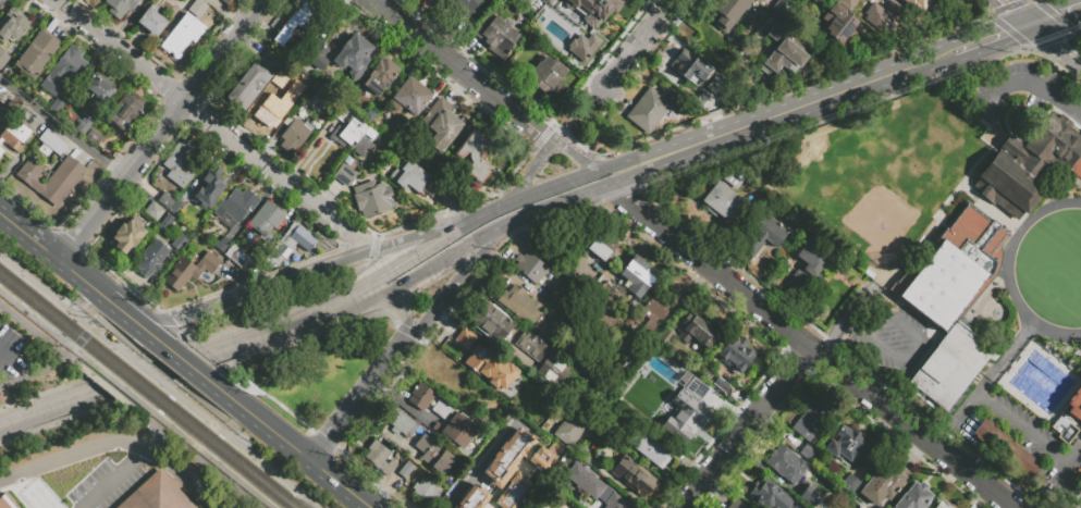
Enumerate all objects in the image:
building: (1, 1)
building: (757, 1)
road: (1034, 1)
building: (230, 2)
building: (848, 2)
road: (1019, 2)
building: (918, 3)
building: (460, 5)
building: (120, 7)
road: (1080, 7)
building: (197, 8)
building: (598, 8)
road: (1000, 10)
road: (1027, 10)
road: (228, 12)
building: (563, 12)
building: (727, 12)
road: (1018, 12)
building: (779, 13)
road: (1056, 14)
road: (1057, 15)
building: (302, 16)
building: (877, 16)
road: (994, 21)
building: (151, 22)
building: (12, 24)
traffic signals: (1034, 24)
building: (838, 25)
building: (188, 27)
road: (1067, 29)
road: (1010, 30)
road: (1007, 33)
building: (495, 36)
building: (282, 37)
road: (1054, 40)
road: (638, 41)
road: (1056, 41)
building: (174, 44)
building: (581, 46)
road: (1052, 46)
road: (968, 47)
building: (781, 49)
road: (438, 51)
building: (37, 53)
building: (353, 53)
building: (316, 54)
building: (3, 59)
road: (1080, 59)
building: (689, 67)
building: (63, 69)
building: (379, 76)
building: (548, 78)
road: (1031, 83)
building: (247, 86)
building: (721, 87)
parking lot: (1025, 91)
building: (95, 96)
building: (409, 97)
building: (318, 98)
building: (699, 99)
road: (815, 101)
building: (56, 106)
building: (651, 109)
building: (23, 111)
building: (124, 111)
building: (269, 111)
road: (593, 114)
road: (524, 119)
road: (214, 124)
building: (82, 125)
building: (442, 125)
road: (62, 127)
road: (163, 127)
building: (294, 135)
building: (14, 136)
building: (93, 137)
building: (357, 137)
road: (543, 137)
road: (550, 139)
building: (52, 143)
building: (1043, 147)
building: (1, 151)
building: (472, 154)
road: (582, 160)
building: (180, 163)
building: (1076, 168)
building: (73, 169)
park: (877, 172)
building: (30, 173)
building: (343, 174)
road: (529, 174)
building: (408, 175)
building: (734, 177)
building: (63, 181)
building: (1008, 186)
road: (595, 189)
building: (208, 190)
building: (52, 193)
building: (372, 197)
building: (165, 200)
building: (720, 201)
building: (234, 205)
road: (28, 206)
road: (464, 206)
building: (175, 207)
building: (153, 211)
road: (484, 214)
building: (266, 219)
building: (165, 220)
road: (438, 226)
road: (32, 231)
building: (761, 235)
building: (125, 236)
road: (70, 238)
building: (294, 239)
building: (593, 240)
building: (177, 243)
building: (222, 245)
road: (373, 247)
building: (560, 248)
building: (236, 256)
building: (149, 259)
road: (441, 262)
building: (807, 265)
road: (324, 267)
building: (529, 268)
road: (1008, 270)
building: (188, 271)
road: (84, 273)
building: (637, 276)
road: (122, 280)
road: (454, 285)
building: (604, 292)
road: (224, 302)
road: (88, 303)
building: (518, 303)
road: (138, 305)
building: (955, 305)
road: (288, 307)
road: (341, 311)
road: (405, 312)
building: (651, 312)
building: (489, 320)
building: (599, 320)
road: (168, 322)
road: (840, 322)
road: (320, 331)
building: (697, 331)
road: (116, 332)
road: (255, 337)
building: (664, 337)
road: (180, 339)
road: (194, 342)
road: (810, 347)
road: (914, 351)
road: (196, 352)
parking lot: (19, 354)
building: (736, 354)
road: (186, 355)
road: (148, 357)
building: (484, 360)
building: (544, 360)
road: (216, 368)
road: (36, 370)
road: (163, 370)
park: (314, 373)
railway: (149, 377)
road: (177, 380)
building: (449, 381)
road: (985, 385)
railway: (150, 387)
road: (44, 393)
railway: (145, 393)
building: (420, 396)
railway: (137, 398)
road: (269, 398)
road: (356, 401)
building: (1074, 404)
road: (132, 405)
road: (51, 409)
building: (440, 409)
building: (687, 409)
road: (219, 413)
building: (813, 419)
road: (58, 421)
building: (400, 422)
road: (140, 426)
parking lot: (1022, 426)
road: (746, 428)
road: (1023, 428)
building: (568, 429)
building: (455, 430)
road: (292, 437)
road: (324, 438)
road: (121, 439)
building: (846, 445)
building: (646, 446)
building: (1006, 448)
building: (809, 451)
building: (433, 455)
building: (379, 458)
building: (514, 459)
road: (476, 463)
building: (786, 463)
building: (405, 469)
road: (1068, 469)
building: (631, 476)
road: (114, 478)
road: (374, 479)
road: (346, 482)
building: (850, 483)
building: (884, 483)
building: (593, 487)
building: (425, 490)
building: (513, 492)
building: (766, 494)
building: (155, 495)
building: (811, 495)
building: (913, 496)
building: (472, 498)
building: (8, 501)
building: (737, 505)
building: (943, 505)
building: (449, 507)

